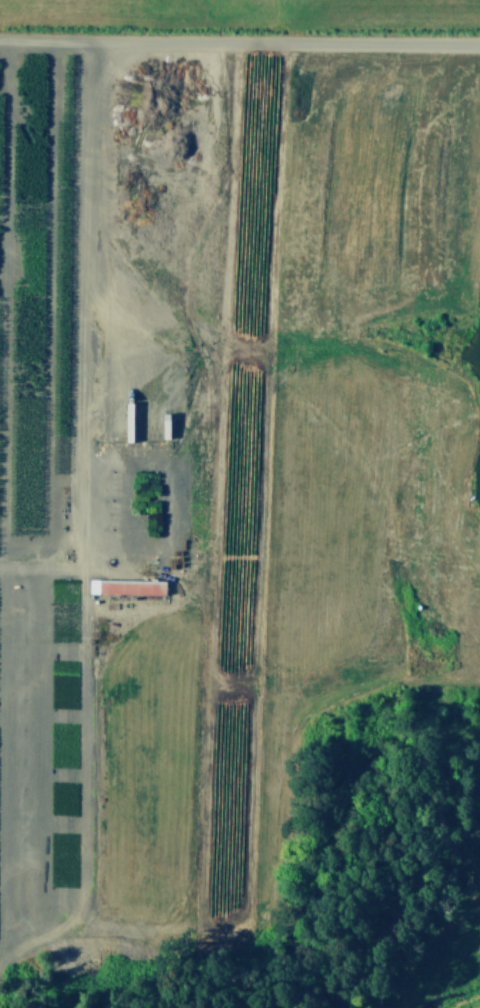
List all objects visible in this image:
building: (125, 587)

